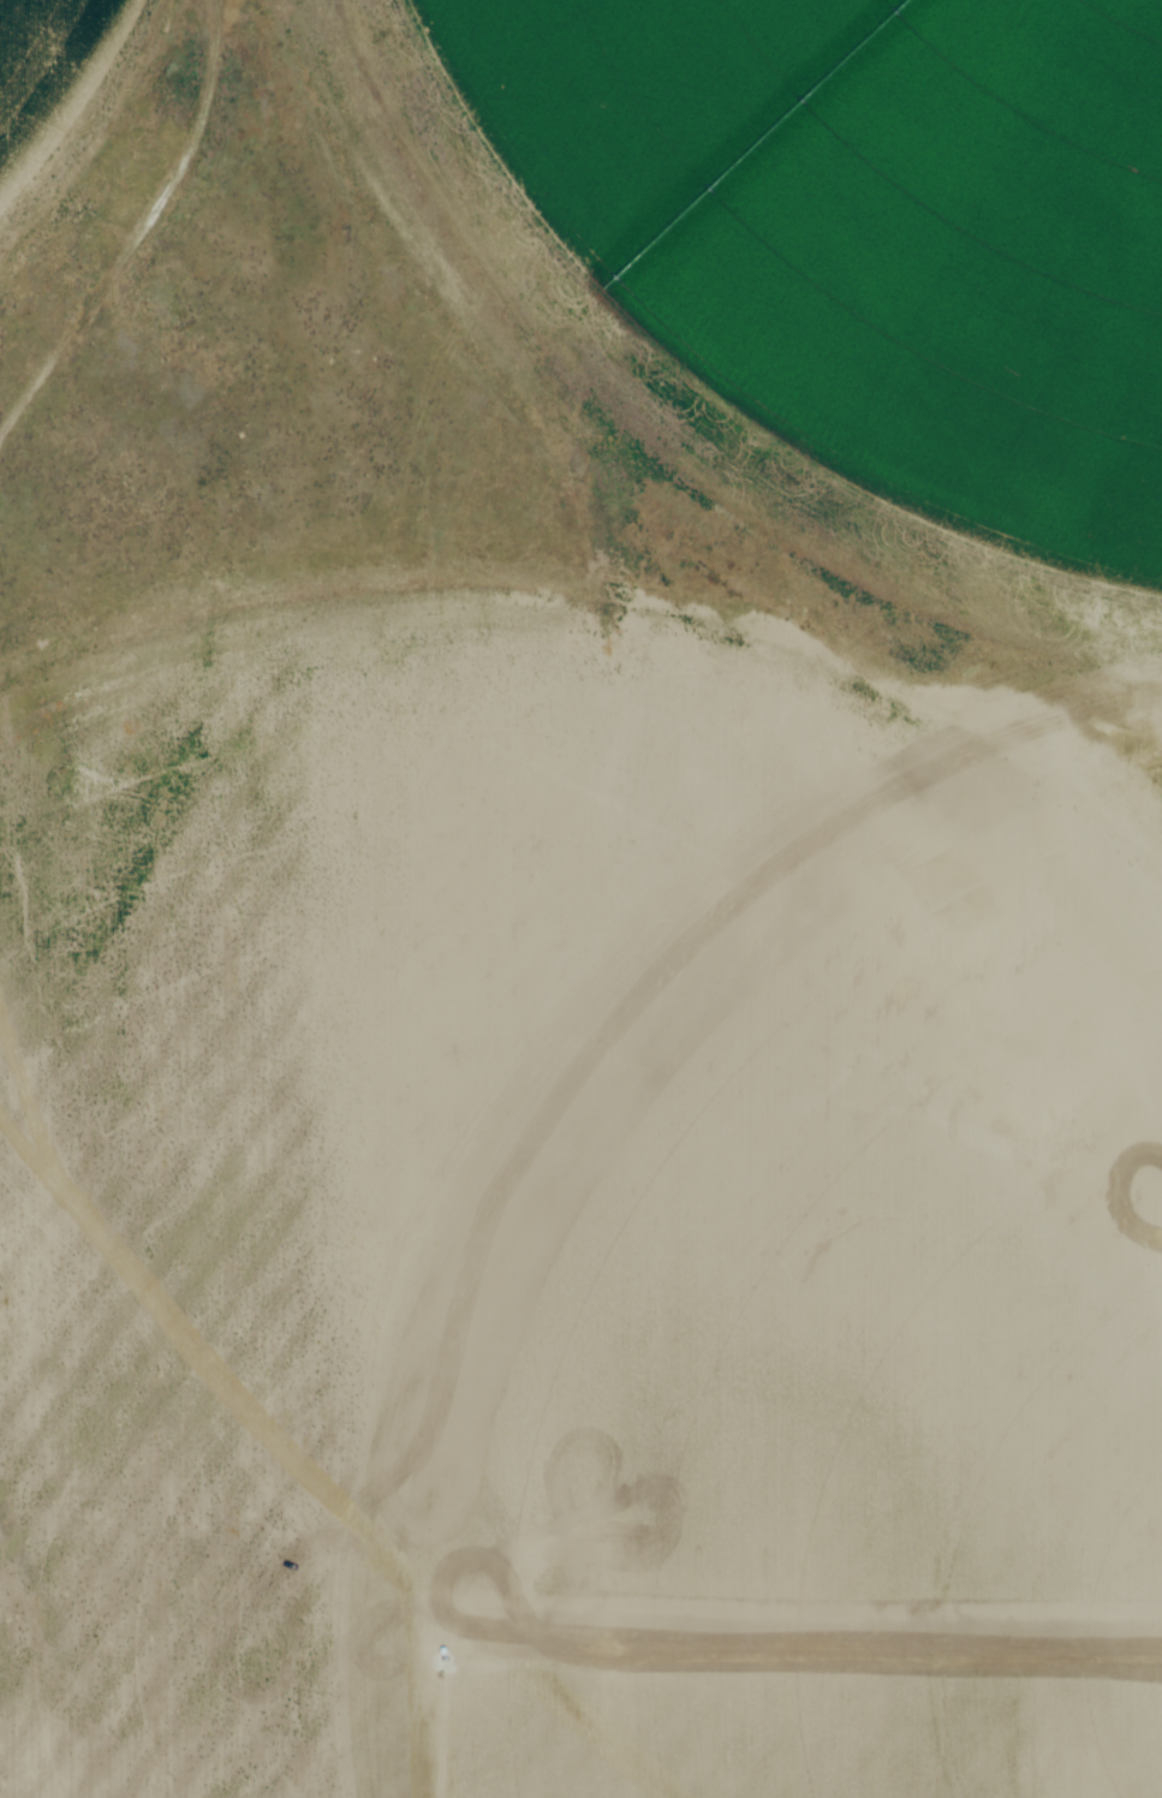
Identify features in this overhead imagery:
crop: (47, 69)
crop: (838, 273)
crop: (565, 1227)

